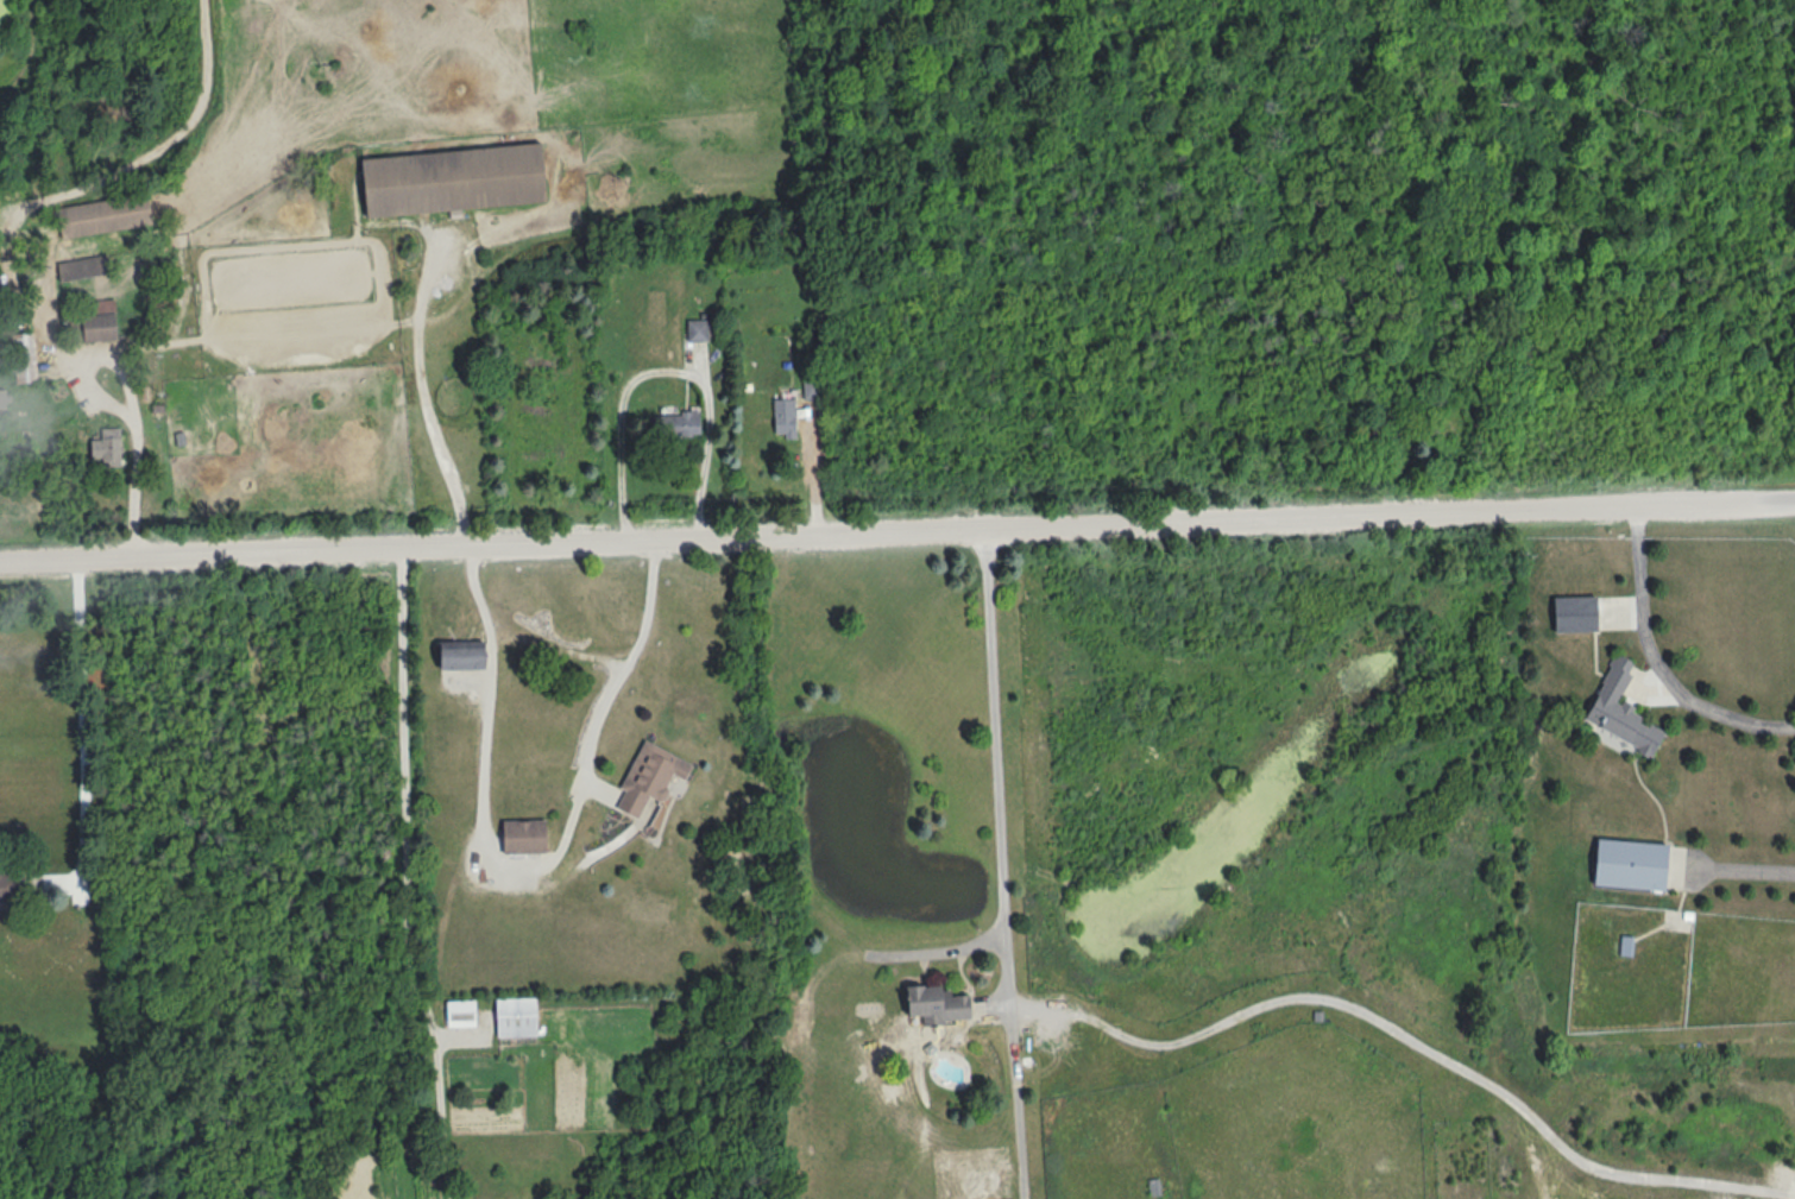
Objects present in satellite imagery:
building: (454, 179)
road: (103, 185)
building: (107, 216)
building: (103, 328)
building: (695, 330)
building: (26, 359)
road: (426, 396)
building: (4, 403)
road: (121, 416)
building: (783, 418)
building: (674, 424)
building: (109, 447)
road: (817, 471)
road: (896, 530)
building: (1572, 614)
building: (462, 655)
road: (1656, 663)
building: (1618, 709)
road: (80, 733)
building: (645, 778)
building: (521, 837)
building: (1627, 865)
road: (407, 876)
road: (535, 877)
road: (1745, 877)
building: (12, 886)
building: (932, 1004)
building: (464, 1014)
building: (519, 1017)
road: (1192, 1034)
road: (1010, 1096)

